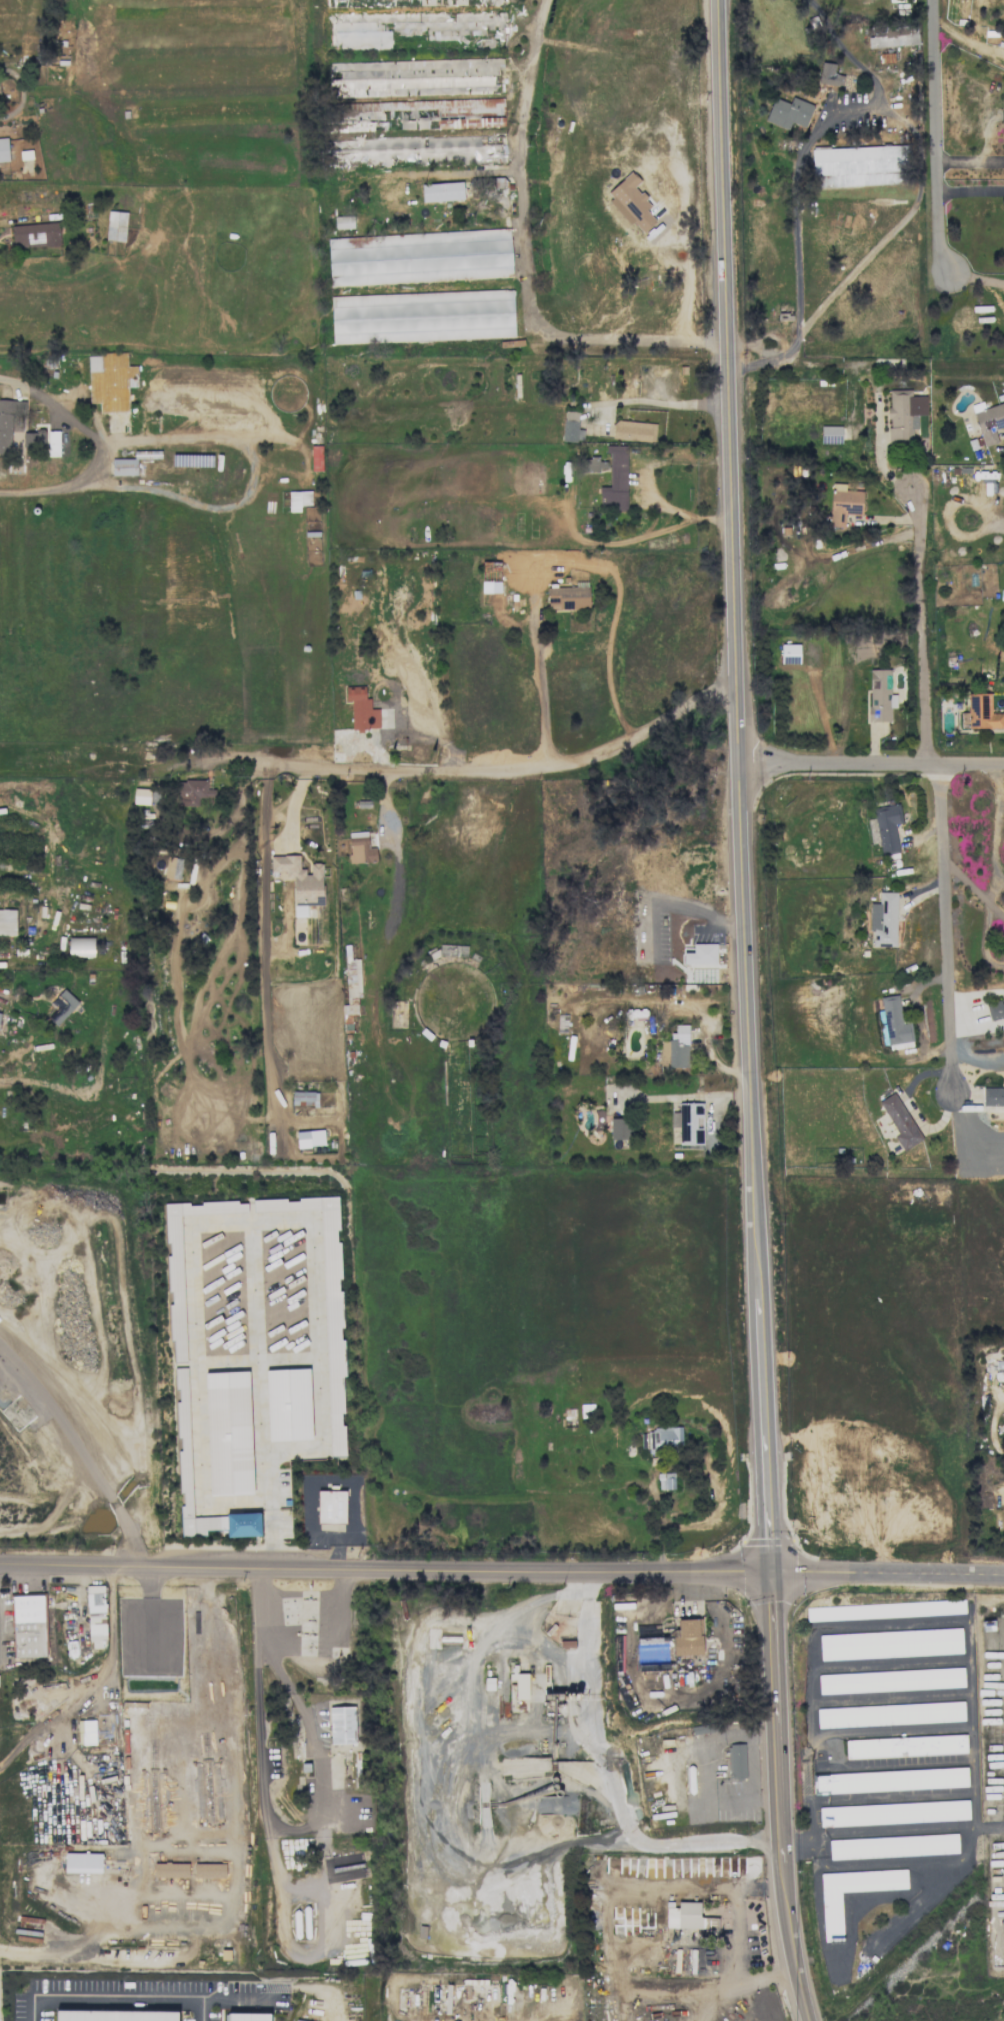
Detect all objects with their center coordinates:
building: (895, 37)
building: (829, 75)
building: (413, 77)
building: (456, 110)
building: (788, 113)
road: (940, 135)
building: (3, 150)
road: (803, 152)
building: (25, 155)
road: (972, 157)
building: (859, 165)
road: (973, 186)
building: (442, 191)
building: (630, 202)
building: (343, 222)
road: (897, 224)
building: (115, 226)
building: (35, 235)
building: (466, 235)
road: (522, 262)
building: (413, 263)
road: (975, 275)
road: (691, 283)
building: (422, 316)
road: (772, 358)
building: (110, 381)
road: (655, 400)
road: (54, 404)
building: (904, 414)
building: (8, 421)
building: (989, 422)
building: (571, 427)
building: (633, 430)
building: (830, 434)
building: (53, 443)
building: (316, 458)
road: (250, 461)
building: (592, 464)
building: (123, 467)
building: (615, 480)
road: (651, 482)
road: (35, 491)
building: (843, 504)
road: (950, 513)
road: (996, 526)
road: (561, 558)
building: (567, 598)
road: (922, 626)
road: (736, 649)
building: (789, 654)
building: (879, 695)
building: (361, 709)
building: (982, 712)
road: (872, 764)
road: (516, 775)
building: (193, 791)
building: (141, 796)
building: (887, 828)
building: (360, 848)
road: (396, 853)
building: (173, 867)
building: (300, 881)
road: (968, 881)
road: (943, 904)
road: (704, 912)
road: (995, 912)
building: (883, 920)
building: (7, 922)
road: (261, 939)
road: (983, 941)
building: (80, 947)
building: (700, 954)
building: (351, 989)
building: (61, 1006)
building: (995, 1009)
building: (893, 1024)
building: (675, 1048)
road: (975, 1059)
building: (304, 1098)
building: (899, 1121)
building: (688, 1123)
building: (619, 1128)
building: (309, 1138)
building: (174, 1252)
building: (325, 1307)
building: (288, 1404)
road: (994, 1422)
building: (228, 1433)
road: (765, 1435)
building: (662, 1438)
road: (77, 1446)
building: (185, 1474)
building: (665, 1481)
building: (331, 1507)
road: (501, 1564)
traffic signals: (771, 1572)
building: (885, 1610)
building: (95, 1613)
building: (28, 1626)
building: (687, 1638)
building: (890, 1643)
road: (580, 1660)
road: (94, 1672)
building: (890, 1680)
building: (520, 1685)
building: (889, 1714)
road: (777, 1716)
building: (342, 1725)
building: (905, 1745)
building: (736, 1760)
building: (890, 1780)
building: (893, 1813)
road: (273, 1818)
road: (440, 1833)
building: (892, 1846)
road: (233, 1854)
building: (82, 1862)
building: (170, 1869)
building: (209, 1870)
building: (683, 1915)
building: (831, 1915)
road: (735, 1939)
road: (791, 1941)
road: (113, 1989)
building: (114, 2015)
building: (246, 2017)
building: (294, 2020)

